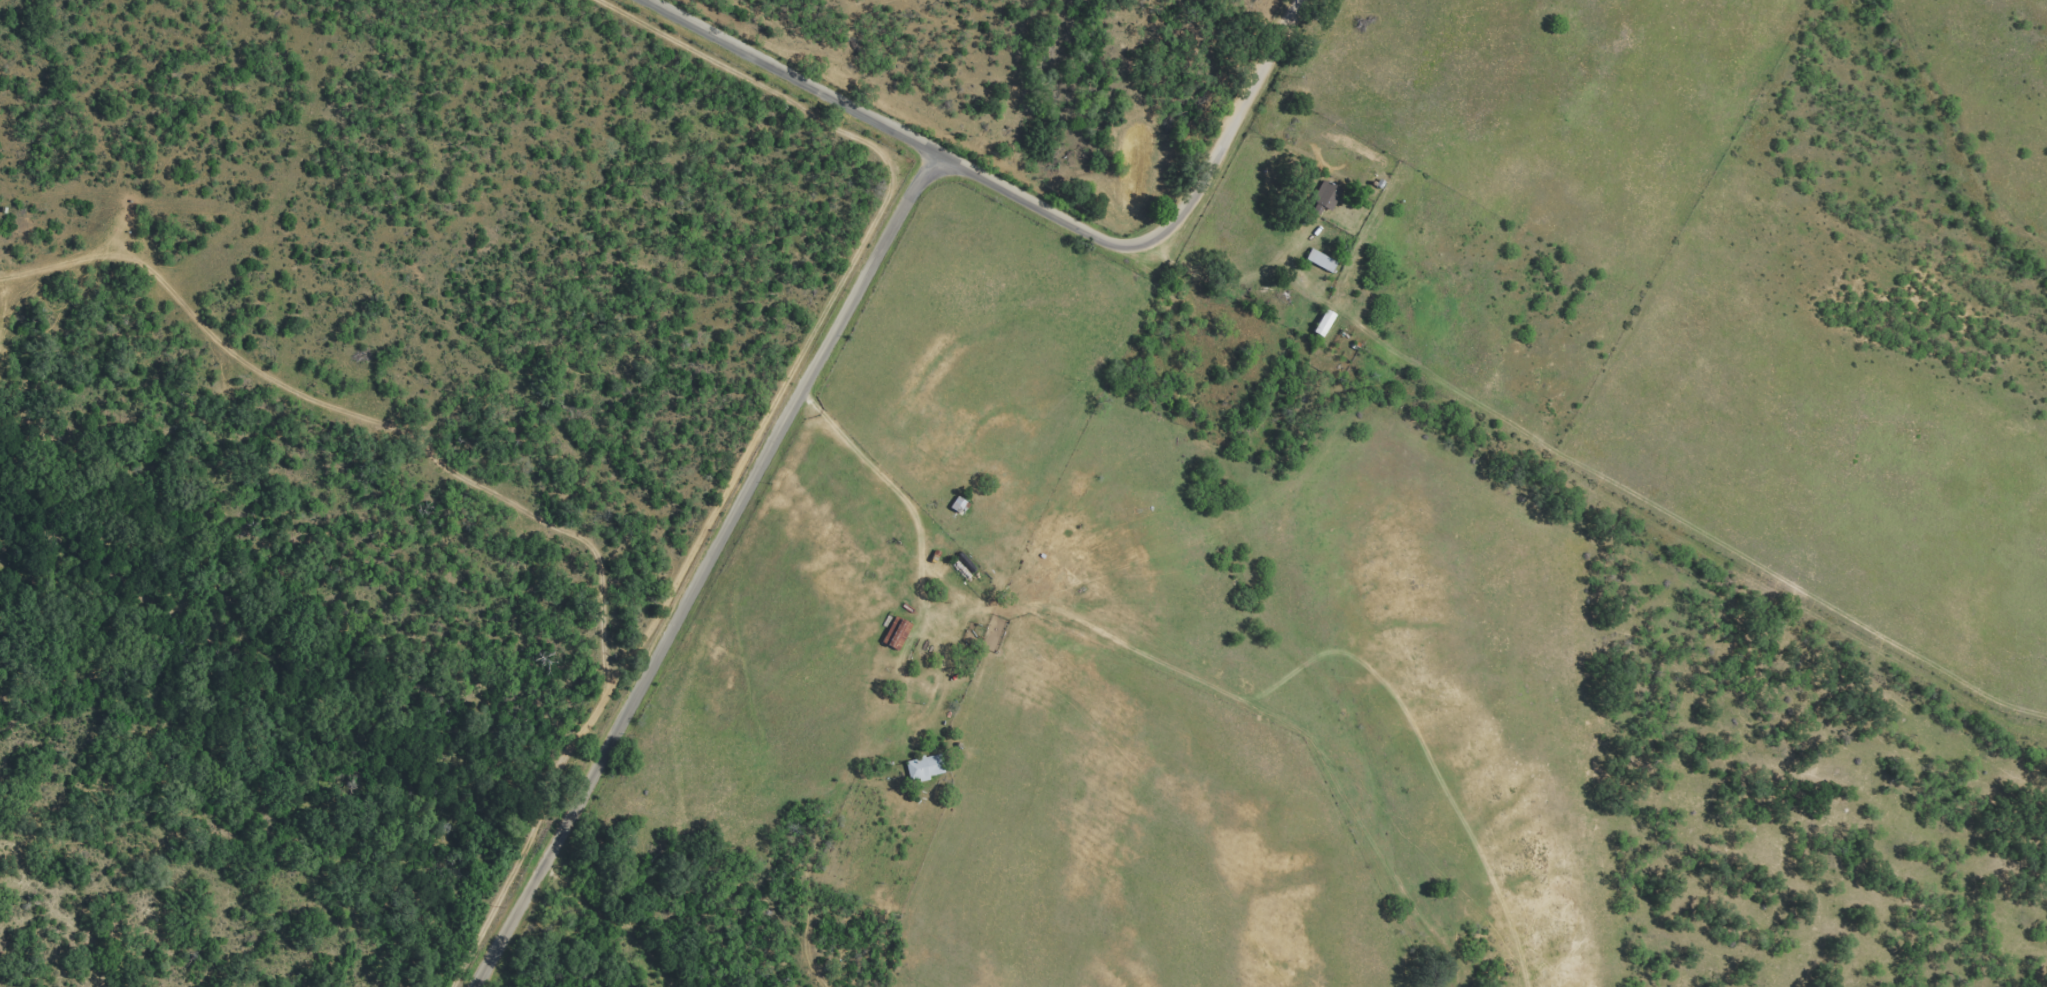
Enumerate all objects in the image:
building: (1325, 194)
road: (1024, 195)
building: (1319, 259)
building: (1322, 322)
building: (956, 504)
road: (920, 540)
road: (700, 570)
building: (894, 633)
road: (946, 675)
building: (923, 766)

